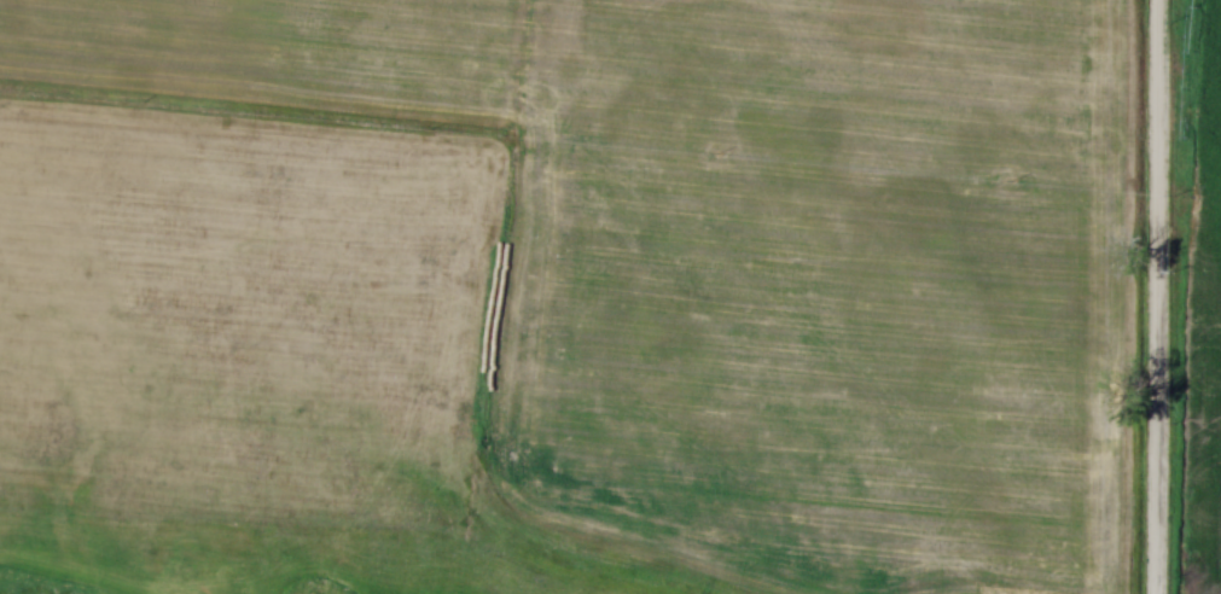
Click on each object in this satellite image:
road: (1157, 296)

